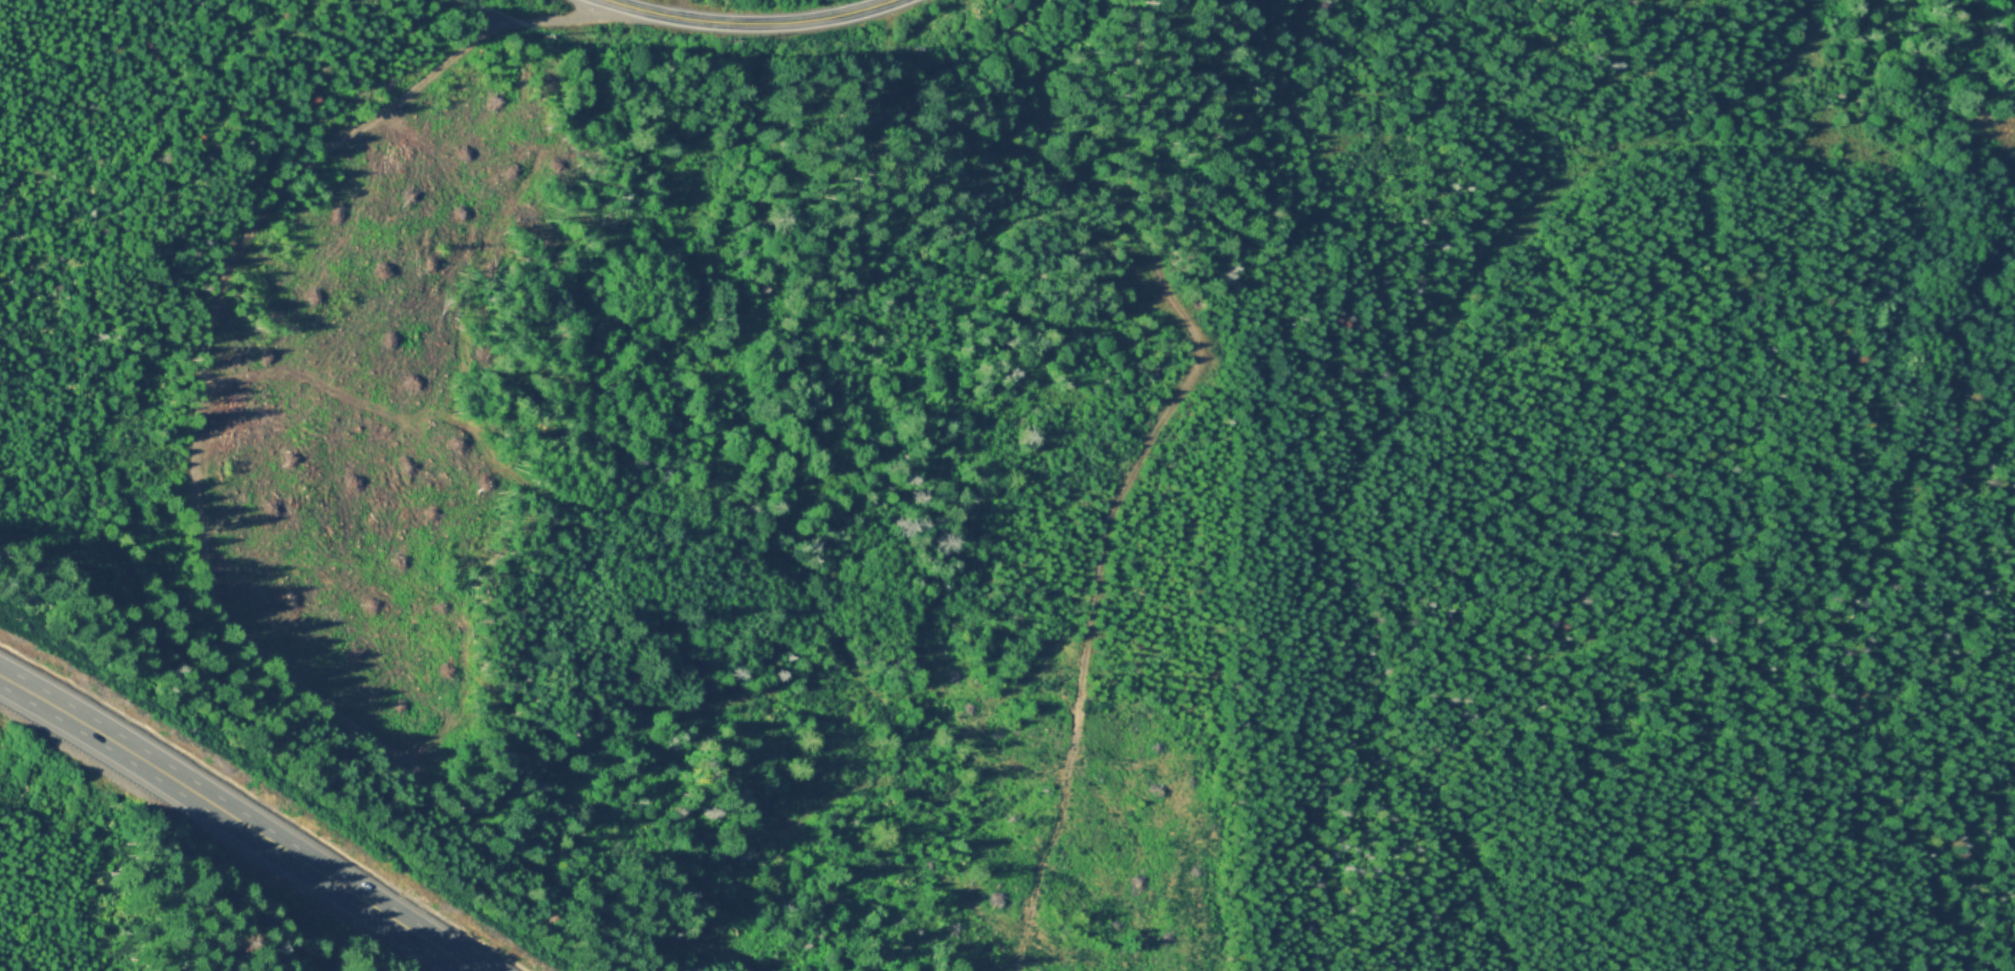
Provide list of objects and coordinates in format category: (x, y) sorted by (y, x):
road: (684, 8)
road: (496, 11)
road: (751, 21)
road: (1194, 331)
road: (183, 514)
road: (241, 820)

